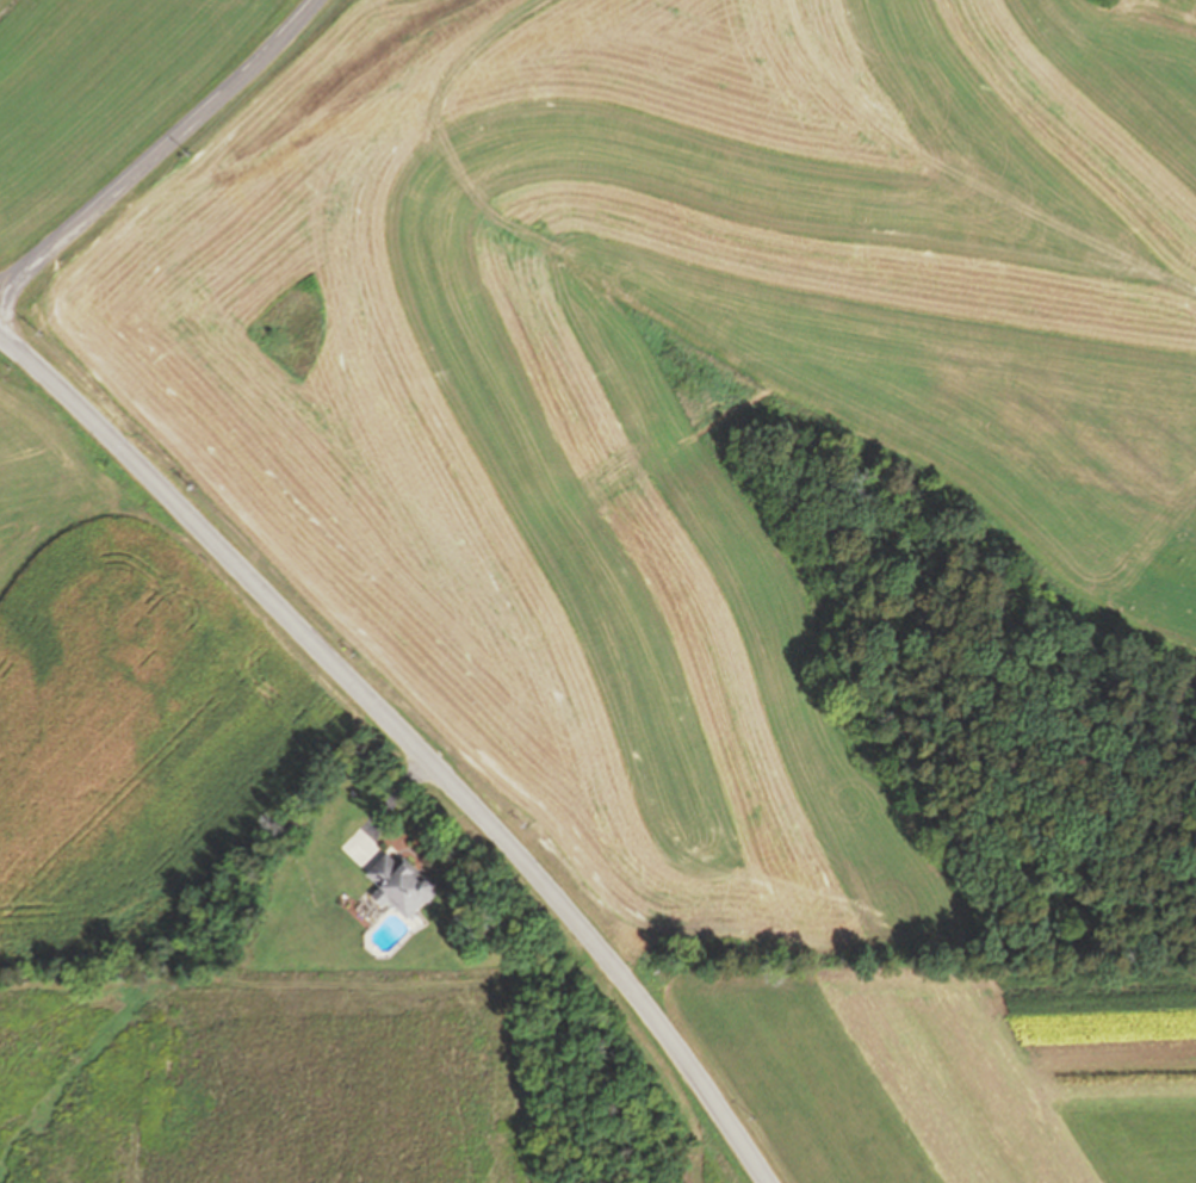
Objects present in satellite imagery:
road: (159, 151)
park: (297, 323)
road: (409, 736)
road: (389, 807)
building: (402, 885)
road: (371, 985)

